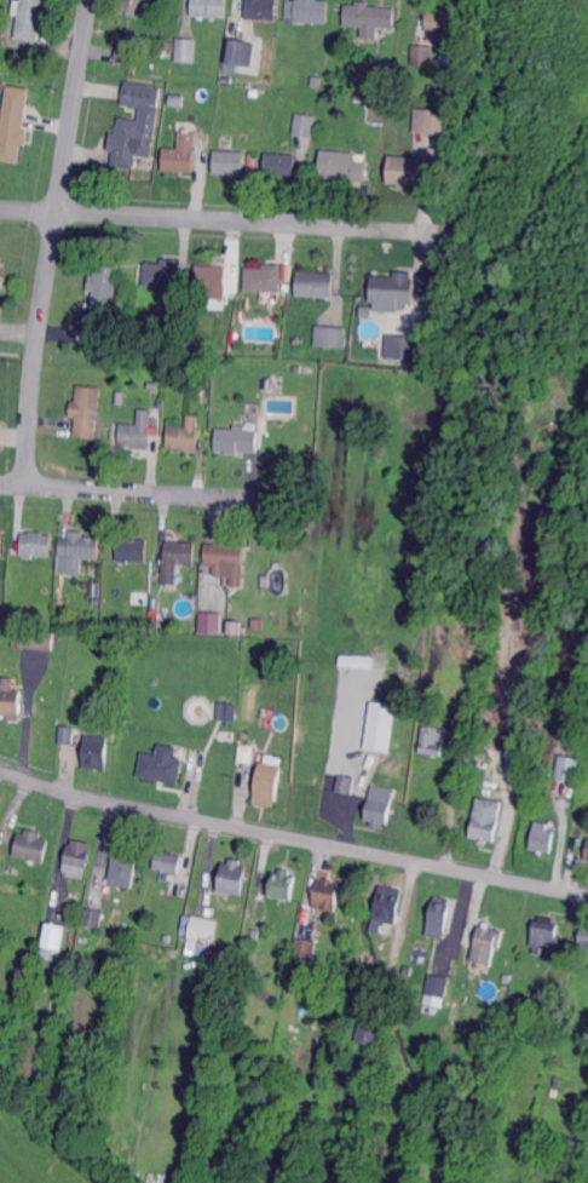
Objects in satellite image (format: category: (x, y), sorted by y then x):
park: (586, 0)
building: (134, 5)
building: (208, 8)
building: (261, 10)
building: (306, 11)
building: (370, 17)
building: (30, 18)
building: (443, 24)
building: (185, 50)
building: (125, 54)
building: (235, 56)
building: (422, 56)
building: (380, 73)
building: (227, 80)
building: (316, 82)
building: (432, 88)
building: (139, 94)
building: (363, 96)
building: (177, 101)
building: (433, 121)
building: (15, 125)
building: (305, 125)
building: (132, 142)
building: (180, 155)
building: (230, 162)
building: (279, 166)
building: (341, 166)
building: (407, 172)
road: (150, 217)
road: (358, 226)
road: (52, 242)
building: (162, 272)
building: (1, 275)
building: (265, 278)
building: (212, 281)
building: (315, 283)
building: (104, 285)
building: (286, 287)
building: (396, 288)
building: (365, 311)
building: (172, 314)
building: (110, 337)
building: (236, 338)
building: (328, 338)
building: (185, 344)
building: (402, 348)
building: (151, 384)
building: (120, 398)
building: (87, 410)
building: (109, 421)
building: (137, 430)
building: (185, 433)
building: (237, 440)
road: (127, 490)
building: (1, 541)
building: (36, 544)
building: (132, 550)
building: (81, 551)
building: (175, 559)
building: (226, 559)
building: (96, 591)
building: (139, 597)
building: (155, 604)
building: (48, 613)
building: (155, 620)
building: (208, 621)
building: (259, 625)
building: (234, 627)
building: (38, 641)
building: (358, 661)
building: (10, 701)
building: (227, 711)
building: (379, 727)
building: (68, 735)
building: (430, 742)
building: (97, 751)
building: (246, 753)
building: (163, 765)
building: (566, 770)
building: (583, 770)
building: (269, 783)
building: (342, 787)
building: (380, 805)
building: (484, 820)
road: (293, 838)
building: (542, 840)
building: (31, 846)
building: (587, 854)
building: (79, 858)
building: (168, 862)
building: (123, 869)
building: (234, 877)
building: (282, 888)
building: (327, 894)
building: (385, 908)
building: (439, 917)
building: (93, 918)
building: (204, 931)
building: (546, 934)
building: (255, 935)
building: (167, 938)
building: (52, 942)
building: (583, 943)
building: (485, 944)
building: (306, 948)
building: (117, 961)
building: (409, 970)
building: (224, 983)
building: (437, 989)
building: (544, 999)
building: (385, 1027)
building: (368, 1030)
building: (34, 1059)
building: (555, 1082)
building: (385, 1093)
building: (554, 1093)
building: (576, 1142)

